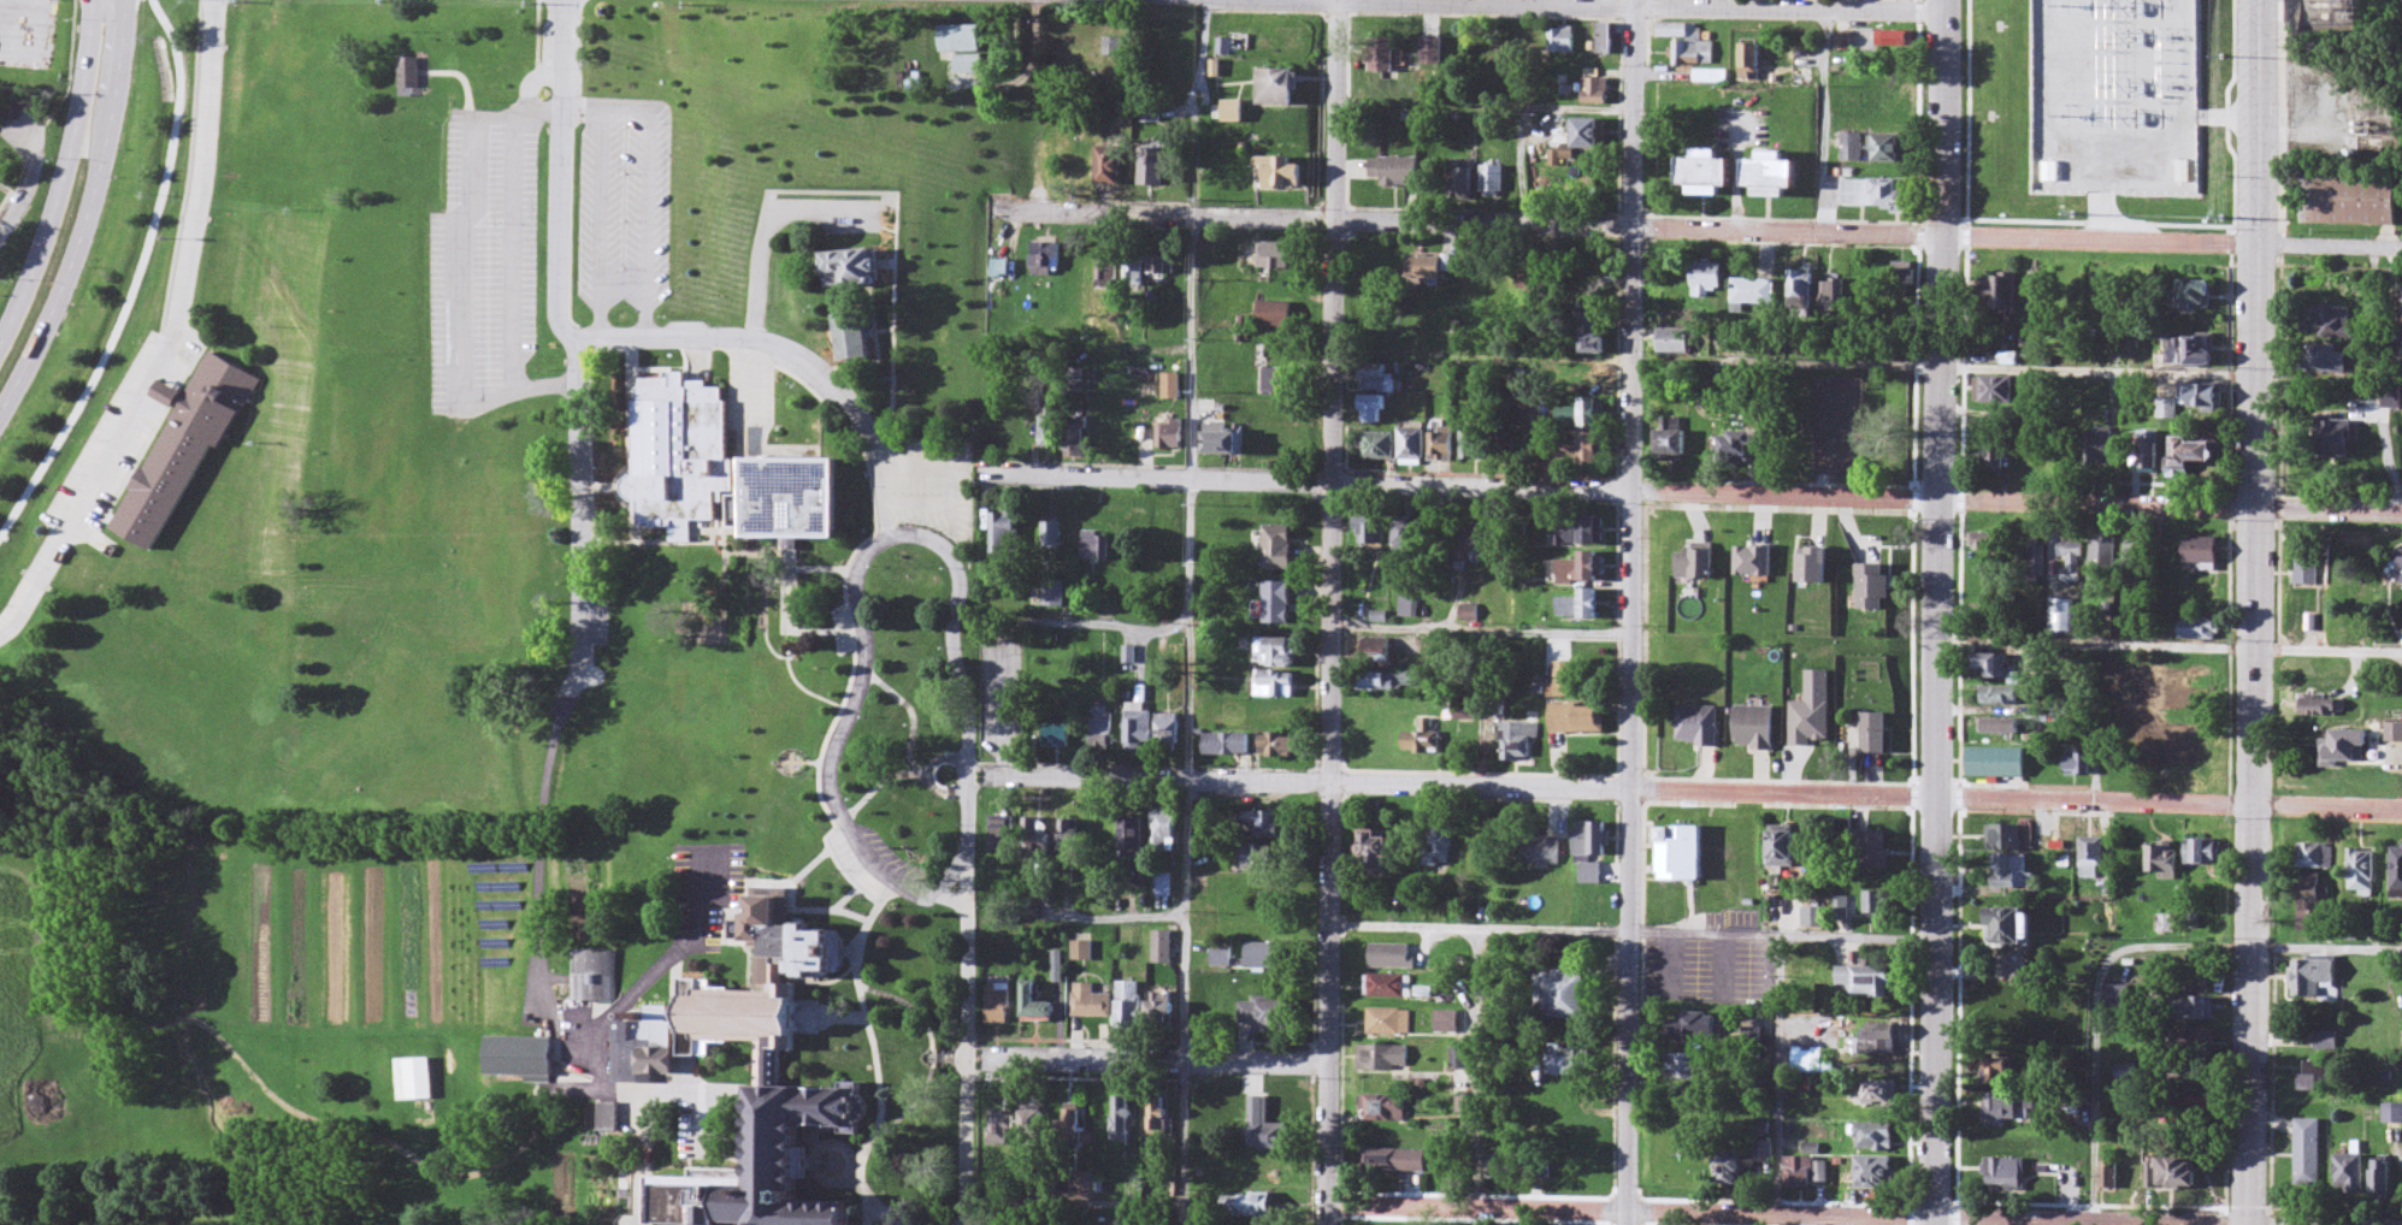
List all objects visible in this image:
road: (1623, 2)
power substation: (2320, 14)
building: (1895, 41)
road: (1041, 43)
road: (67, 71)
power substation: (2115, 95)
building: (2008, 97)
building: (1890, 106)
building: (1853, 149)
building: (1891, 150)
road: (64, 173)
road: (29, 182)
building: (1878, 196)
building: (2354, 199)
road: (88, 213)
road: (1727, 232)
road: (136, 276)
building: (1900, 282)
building: (2003, 291)
building: (2038, 294)
building: (2196, 294)
building: (2331, 321)
road: (588, 338)
building: (2130, 339)
road: (178, 342)
building: (2195, 350)
building: (2326, 360)
building: (1994, 390)
building: (2205, 397)
building: (2338, 438)
building: (188, 448)
building: (2196, 450)
building: (2099, 451)
building: (2149, 455)
building: (1997, 456)
building: (2065, 456)
road: (1688, 496)
building: (2202, 551)
building: (2101, 560)
building: (2135, 561)
building: (2071, 562)
building: (2034, 566)
building: (2401, 569)
building: (2308, 570)
building: (1876, 586)
building: (2369, 590)
road: (1333, 612)
road: (1635, 612)
road: (1936, 612)
road: (2251, 612)
road: (1098, 625)
road: (1483, 628)
building: (2200, 629)
road: (775, 652)
road: (855, 658)
building: (2003, 677)
building: (2321, 706)
road: (905, 709)
road: (849, 724)
building: (2002, 727)
building: (1877, 732)
building: (2395, 732)
building: (2348, 747)
building: (1999, 763)
building: (2079, 764)
road: (928, 773)
road: (875, 787)
road: (1684, 792)
building: (2007, 838)
building: (1871, 851)
building: (2206, 852)
building: (2314, 857)
building: (2093, 858)
building: (2164, 862)
building: (2397, 871)
building: (2016, 872)
building: (2363, 872)
road: (967, 877)
building: (1877, 906)
building: (2314, 911)
building: (2011, 928)
road: (2326, 953)
building: (2317, 980)
building: (1869, 982)
building: (2119, 998)
building: (2191, 1010)
road: (2094, 1020)
building: (2326, 1041)
building: (2195, 1042)
building: (1881, 1043)
building: (523, 1047)
road: (1147, 1064)
building: (1997, 1075)
building: (2314, 1076)
building: (2130, 1077)
building: (412, 1079)
road: (1777, 1079)
building: (1878, 1095)
building: (2009, 1106)
building: (2182, 1114)
building: (1877, 1138)
building: (2308, 1153)
building: (1877, 1173)
building: (2008, 1173)
building: (2174, 1174)
building: (2350, 1174)
building: (2112, 1176)
building: (2134, 1178)
building: (2384, 1180)
road: (1707, 1215)

